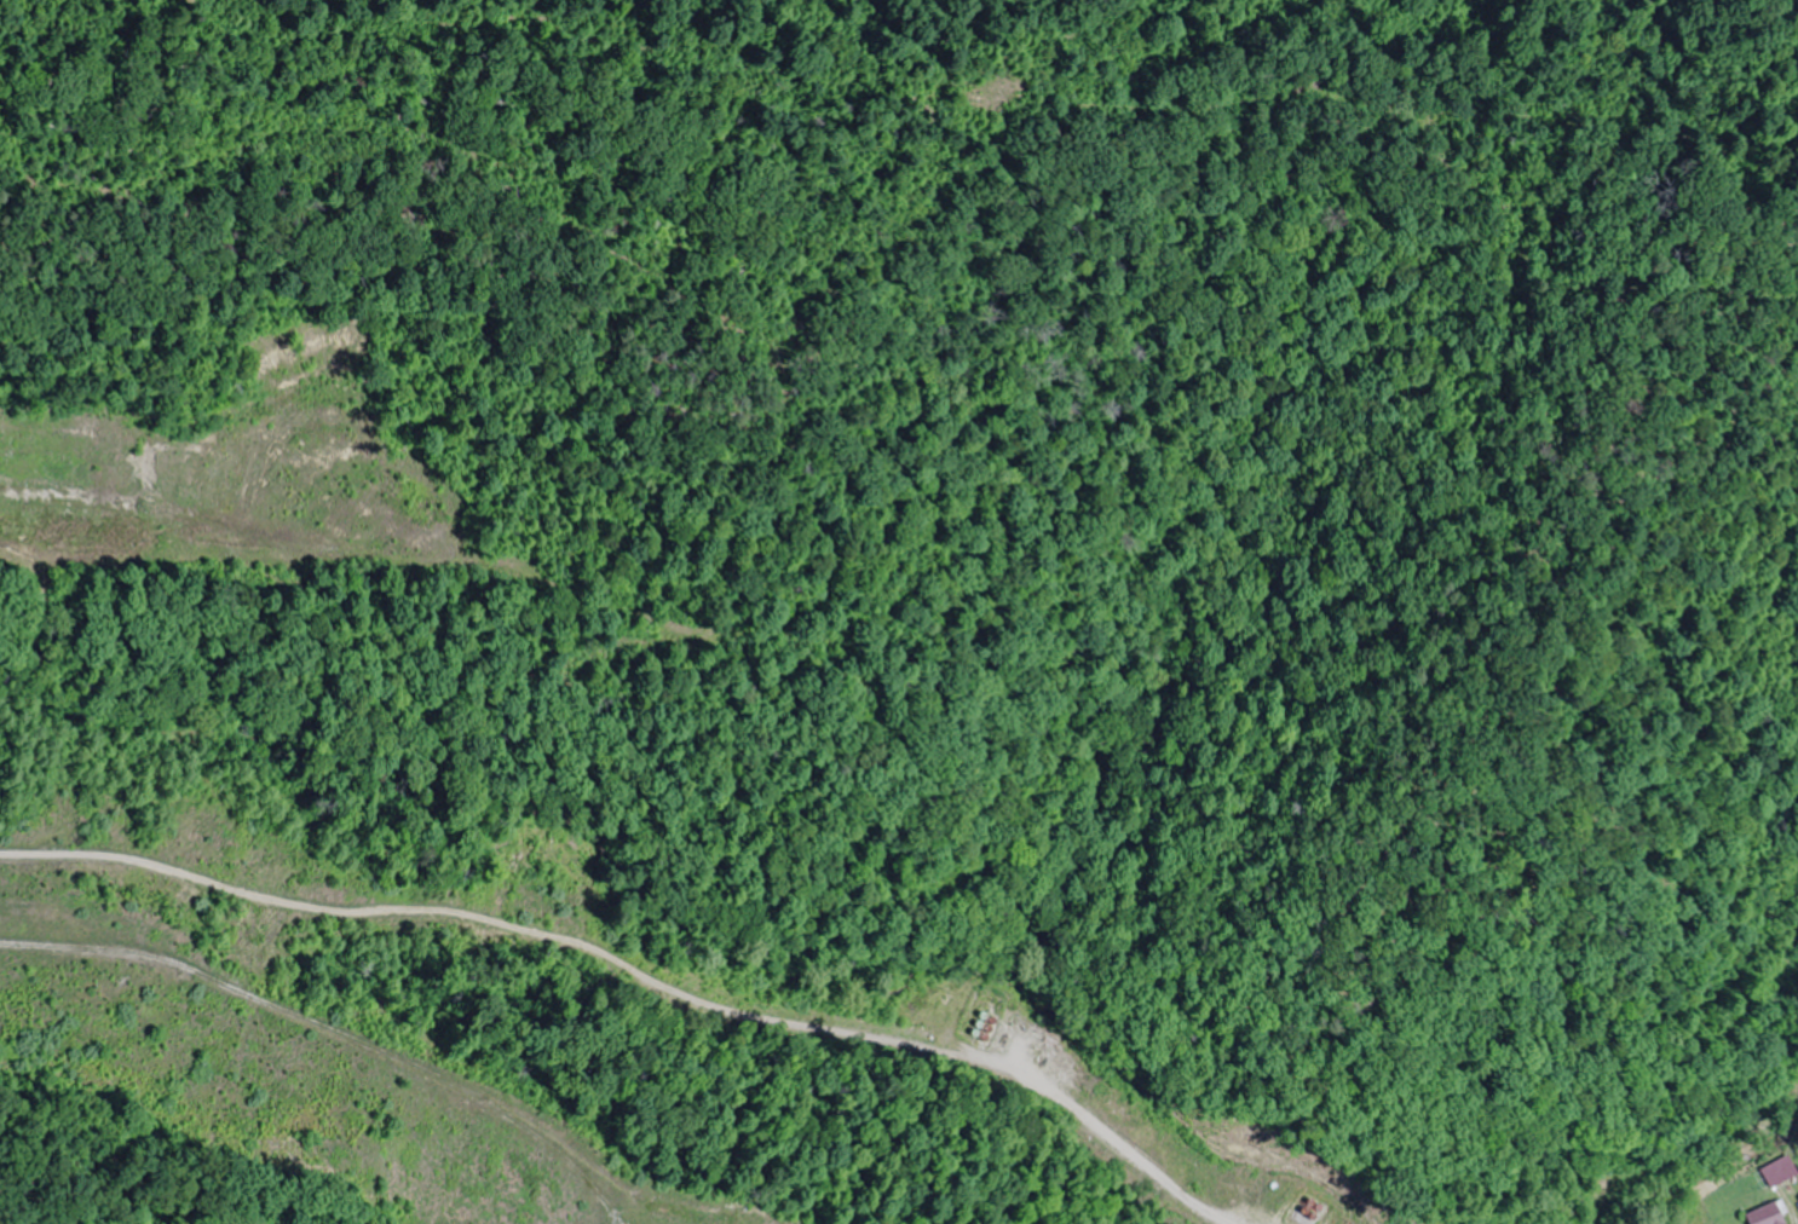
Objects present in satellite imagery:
building: (1781, 1171)
building: (1767, 1214)

